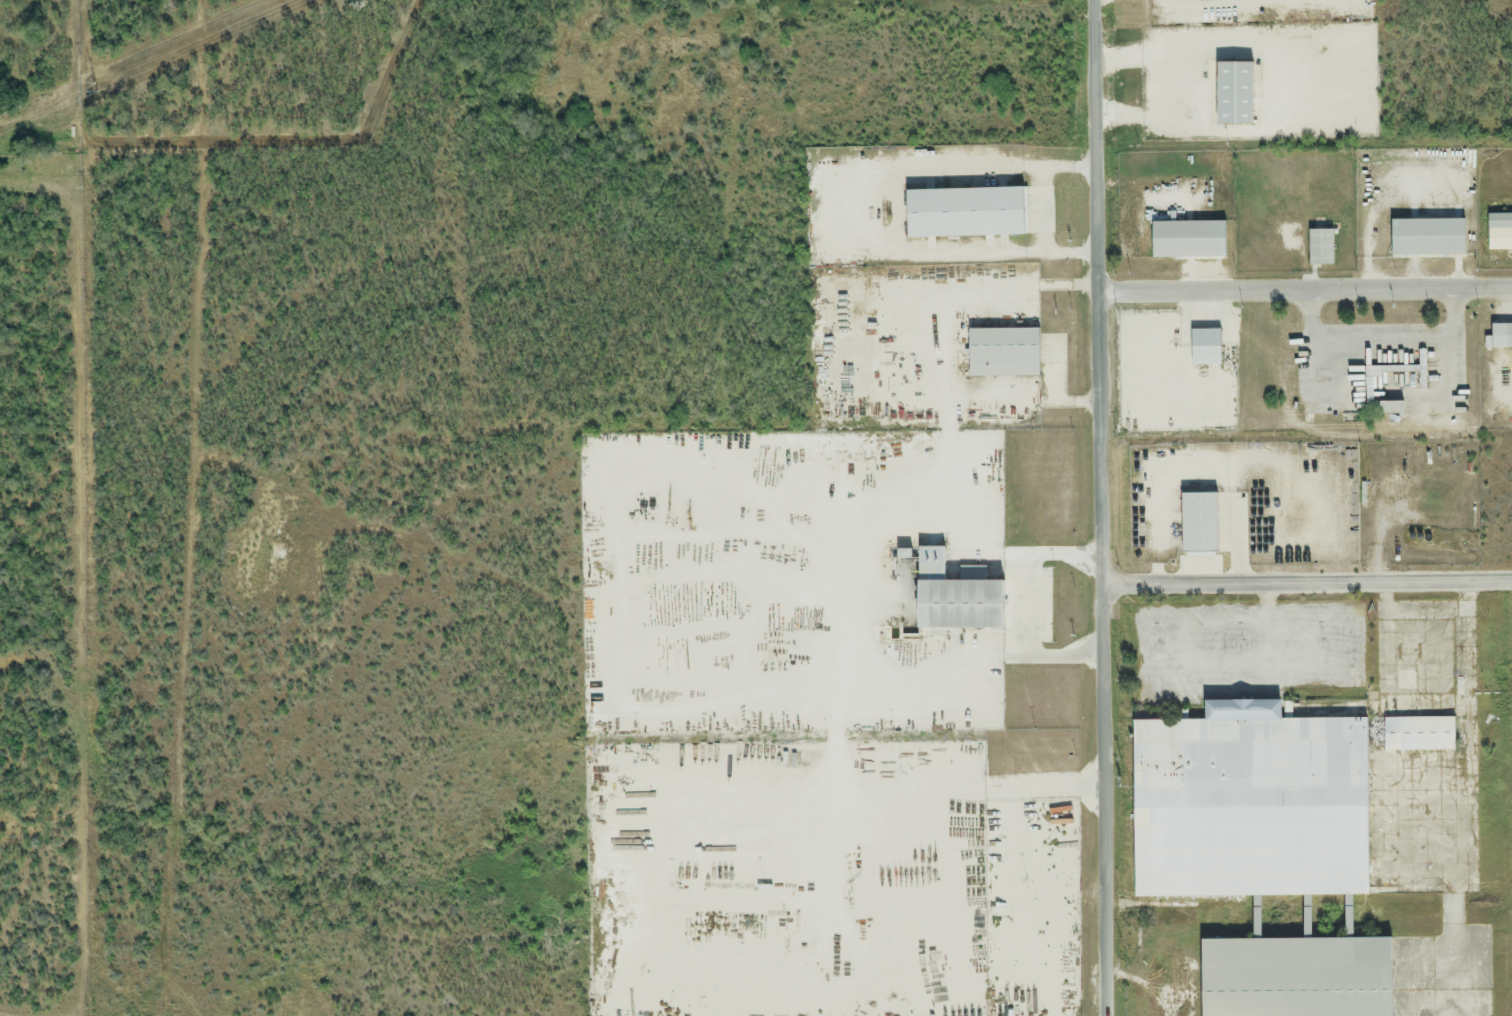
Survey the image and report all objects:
road: (1164, 85)
power tower: (90, 90)
road: (1309, 94)
road: (1041, 208)
building: (956, 213)
building: (1499, 233)
building: (1425, 239)
building: (1183, 240)
building: (1319, 247)
road: (1304, 294)
building: (1500, 336)
building: (998, 353)
road: (1384, 394)
building: (1387, 409)
road: (1099, 507)
building: (1191, 522)
road: (1306, 583)
building: (953, 606)
road: (1027, 607)
building: (1410, 733)
road: (1017, 787)
building: (1242, 807)
building: (1287, 978)
road: (66, 1014)

